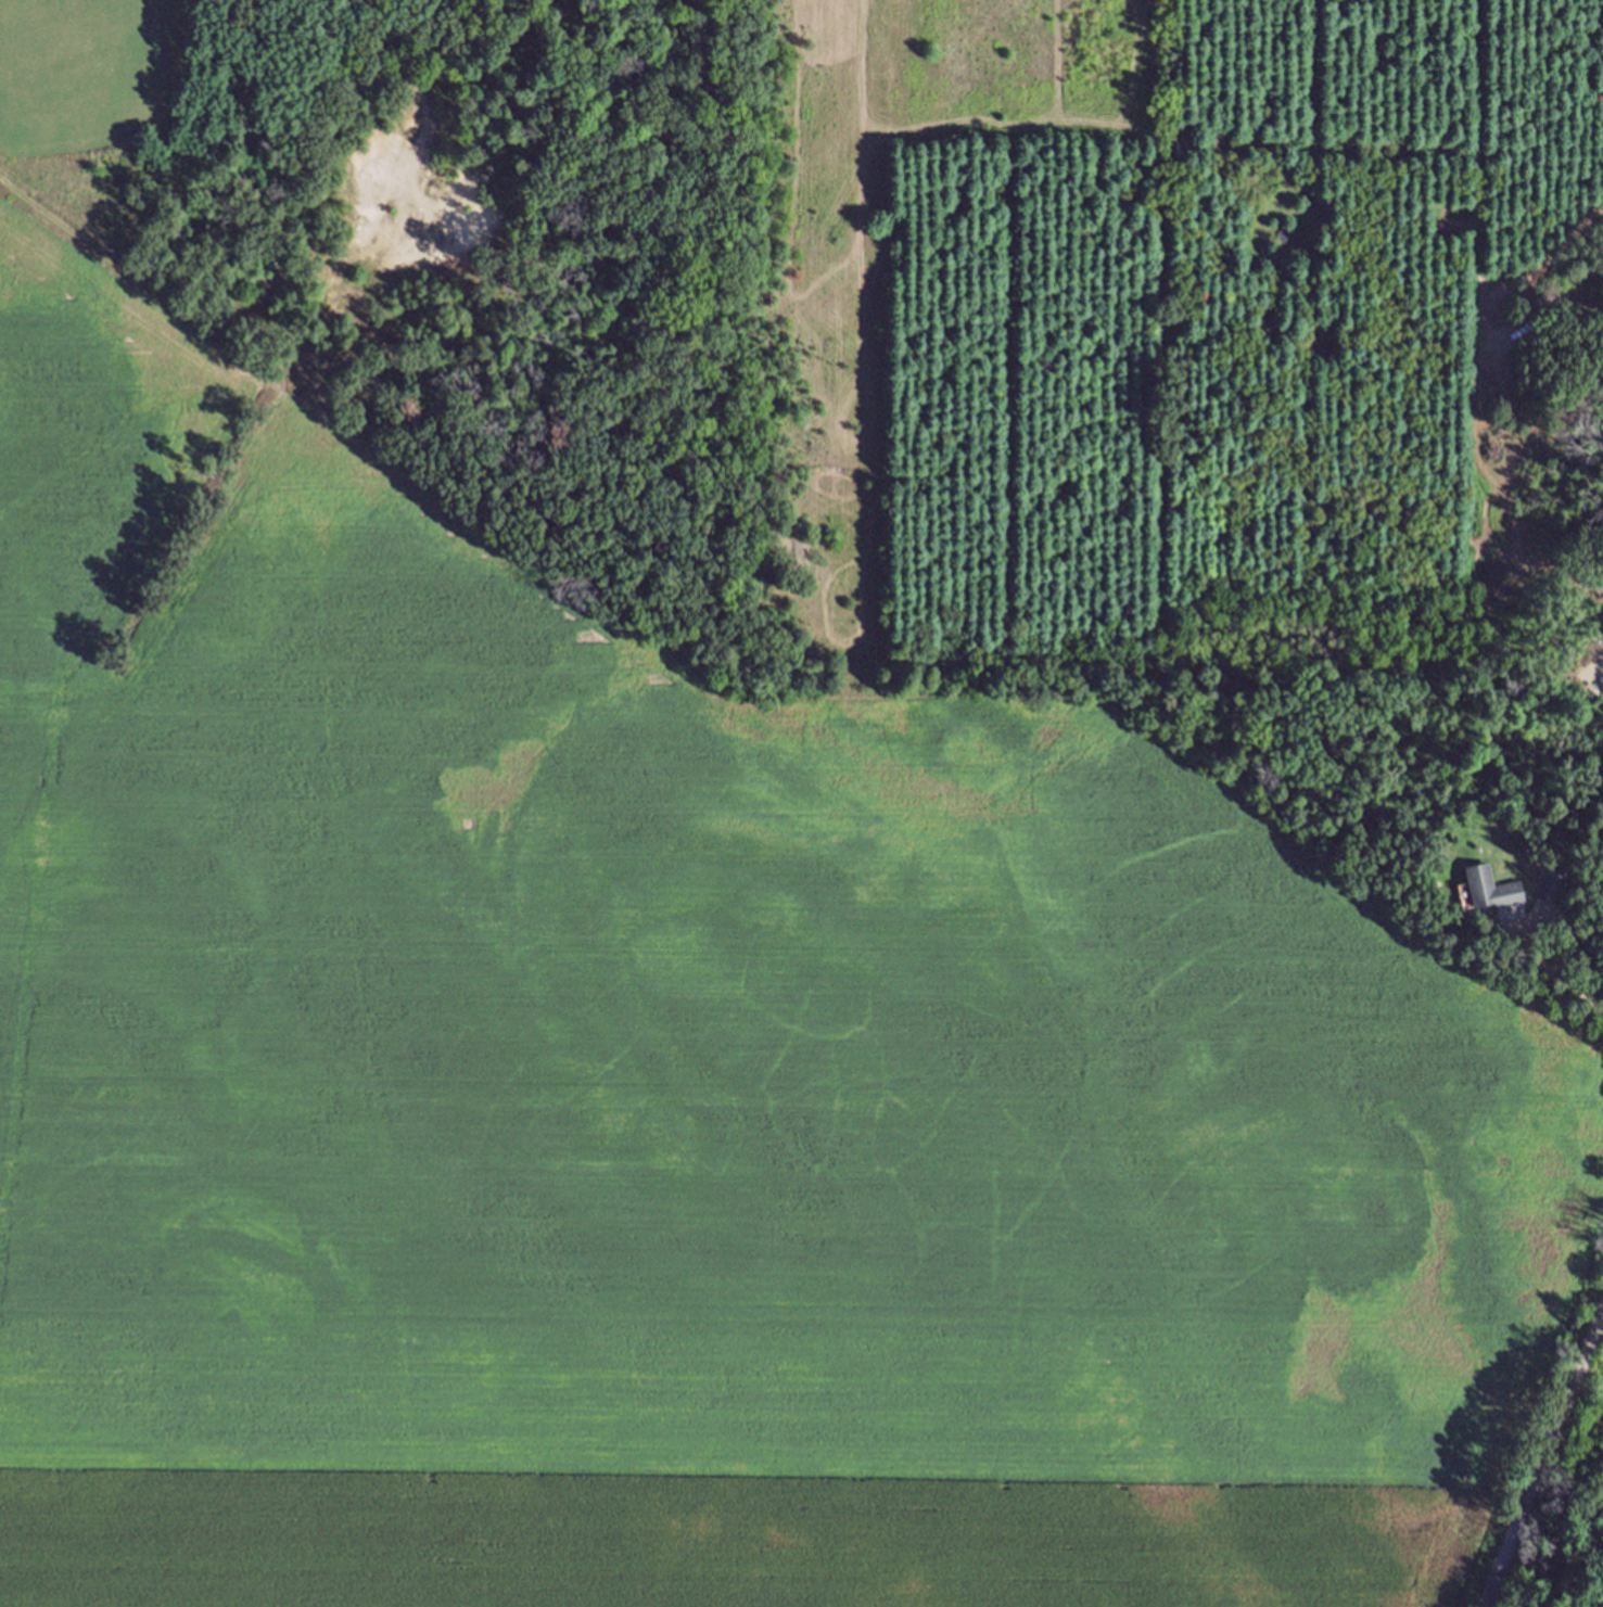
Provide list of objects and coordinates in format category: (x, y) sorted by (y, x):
building: (1489, 900)
road: (1547, 966)
road: (1542, 1458)

